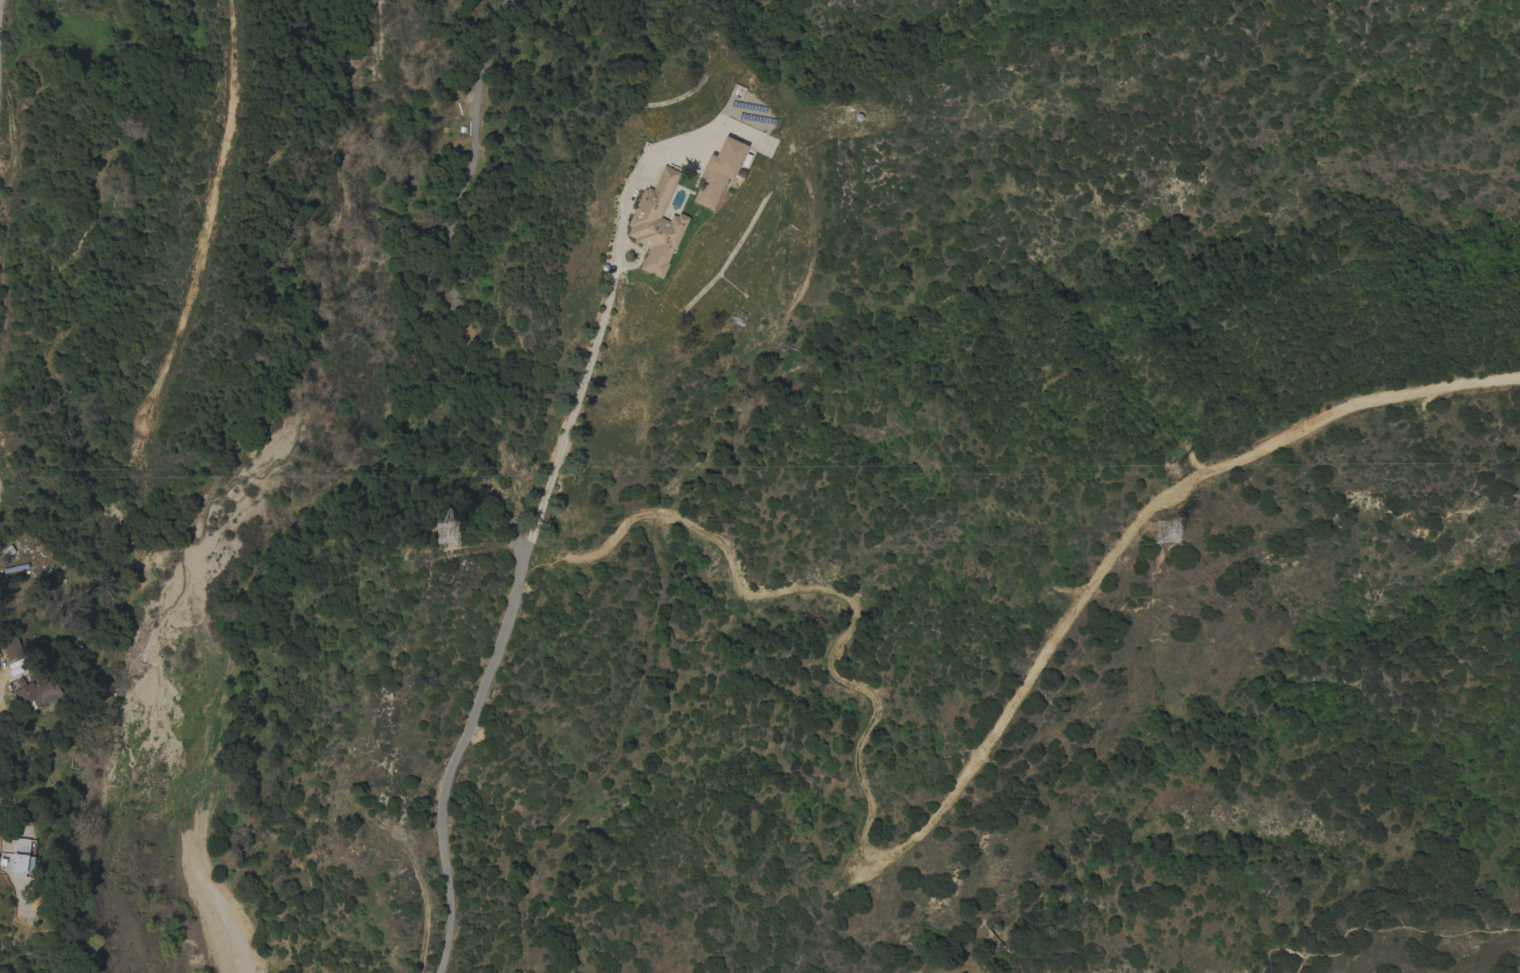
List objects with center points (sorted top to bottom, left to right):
building: (718, 171)
building: (656, 224)
road: (567, 425)
power tower: (1172, 467)
power tower: (519, 470)
road: (487, 489)
power tower: (1168, 535)
power tower: (447, 536)
building: (11, 646)
road: (0, 686)
building: (35, 693)
road: (939, 814)
building: (21, 854)
road: (1383, 925)

